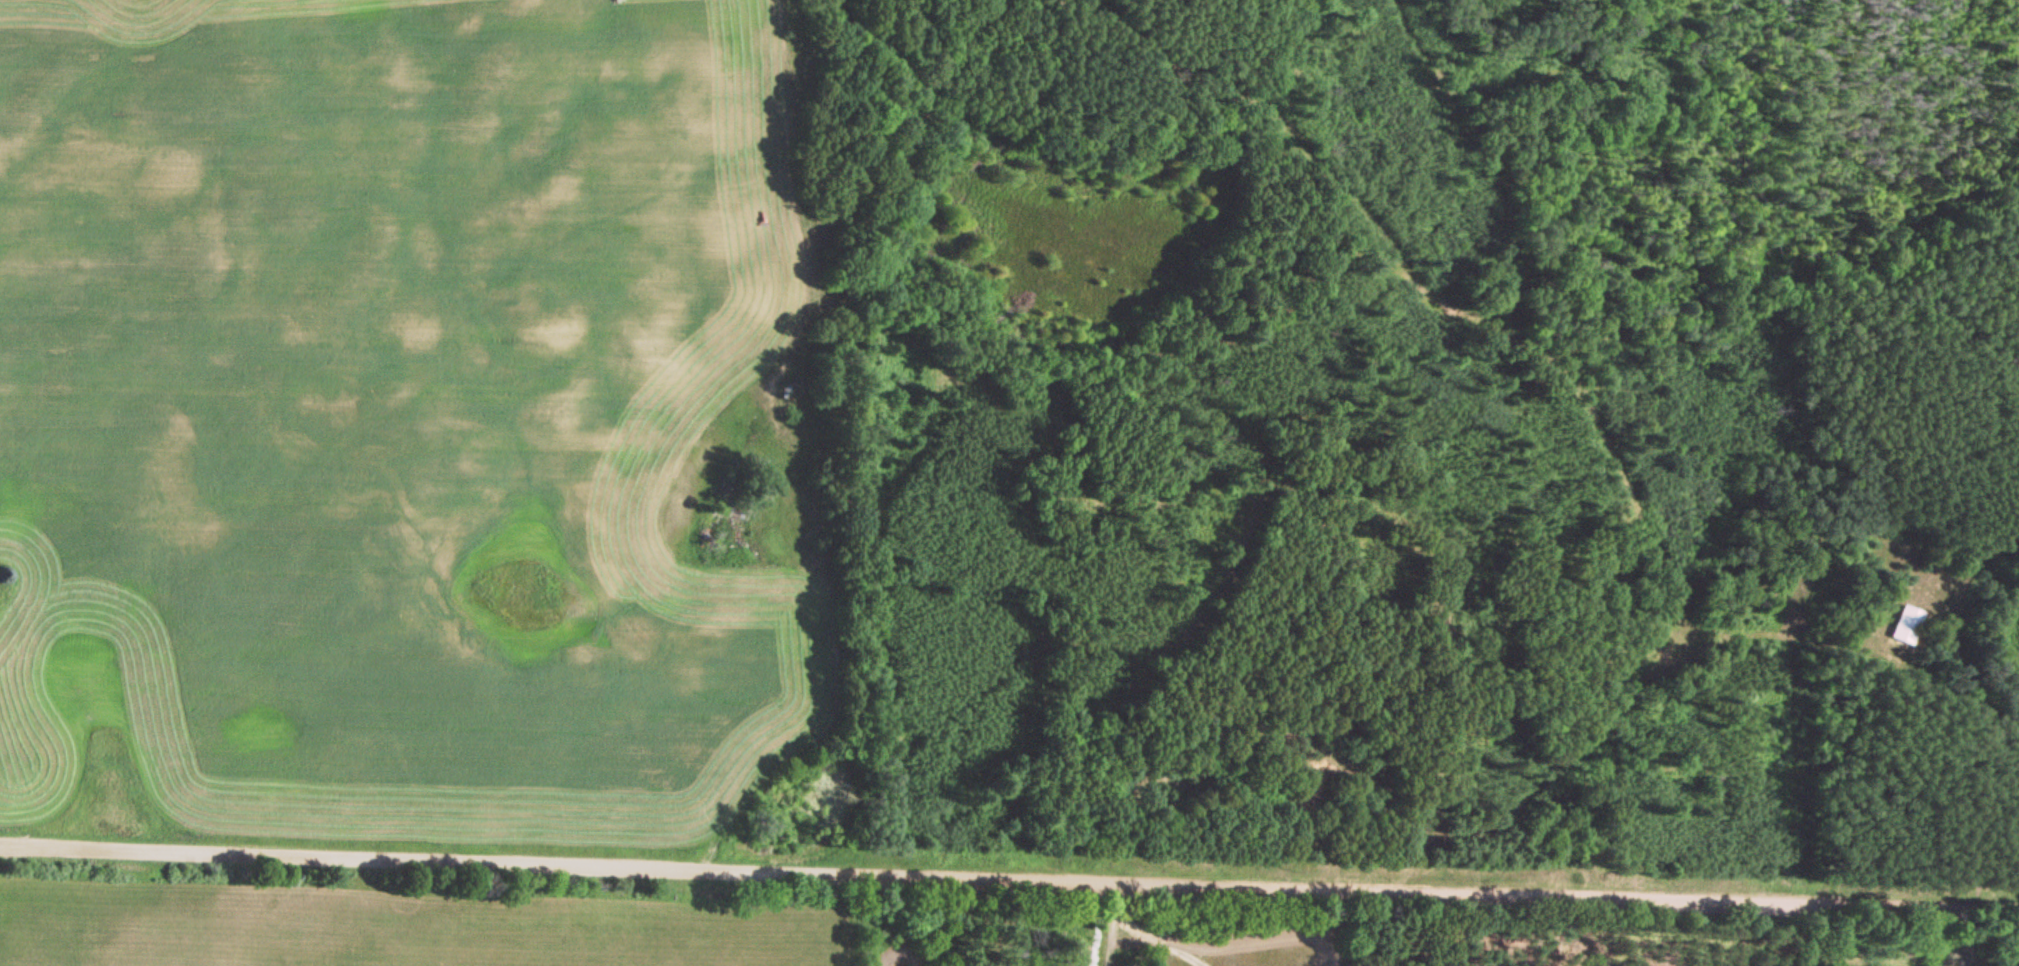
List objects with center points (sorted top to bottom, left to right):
building: (1906, 624)
road: (1009, 885)

